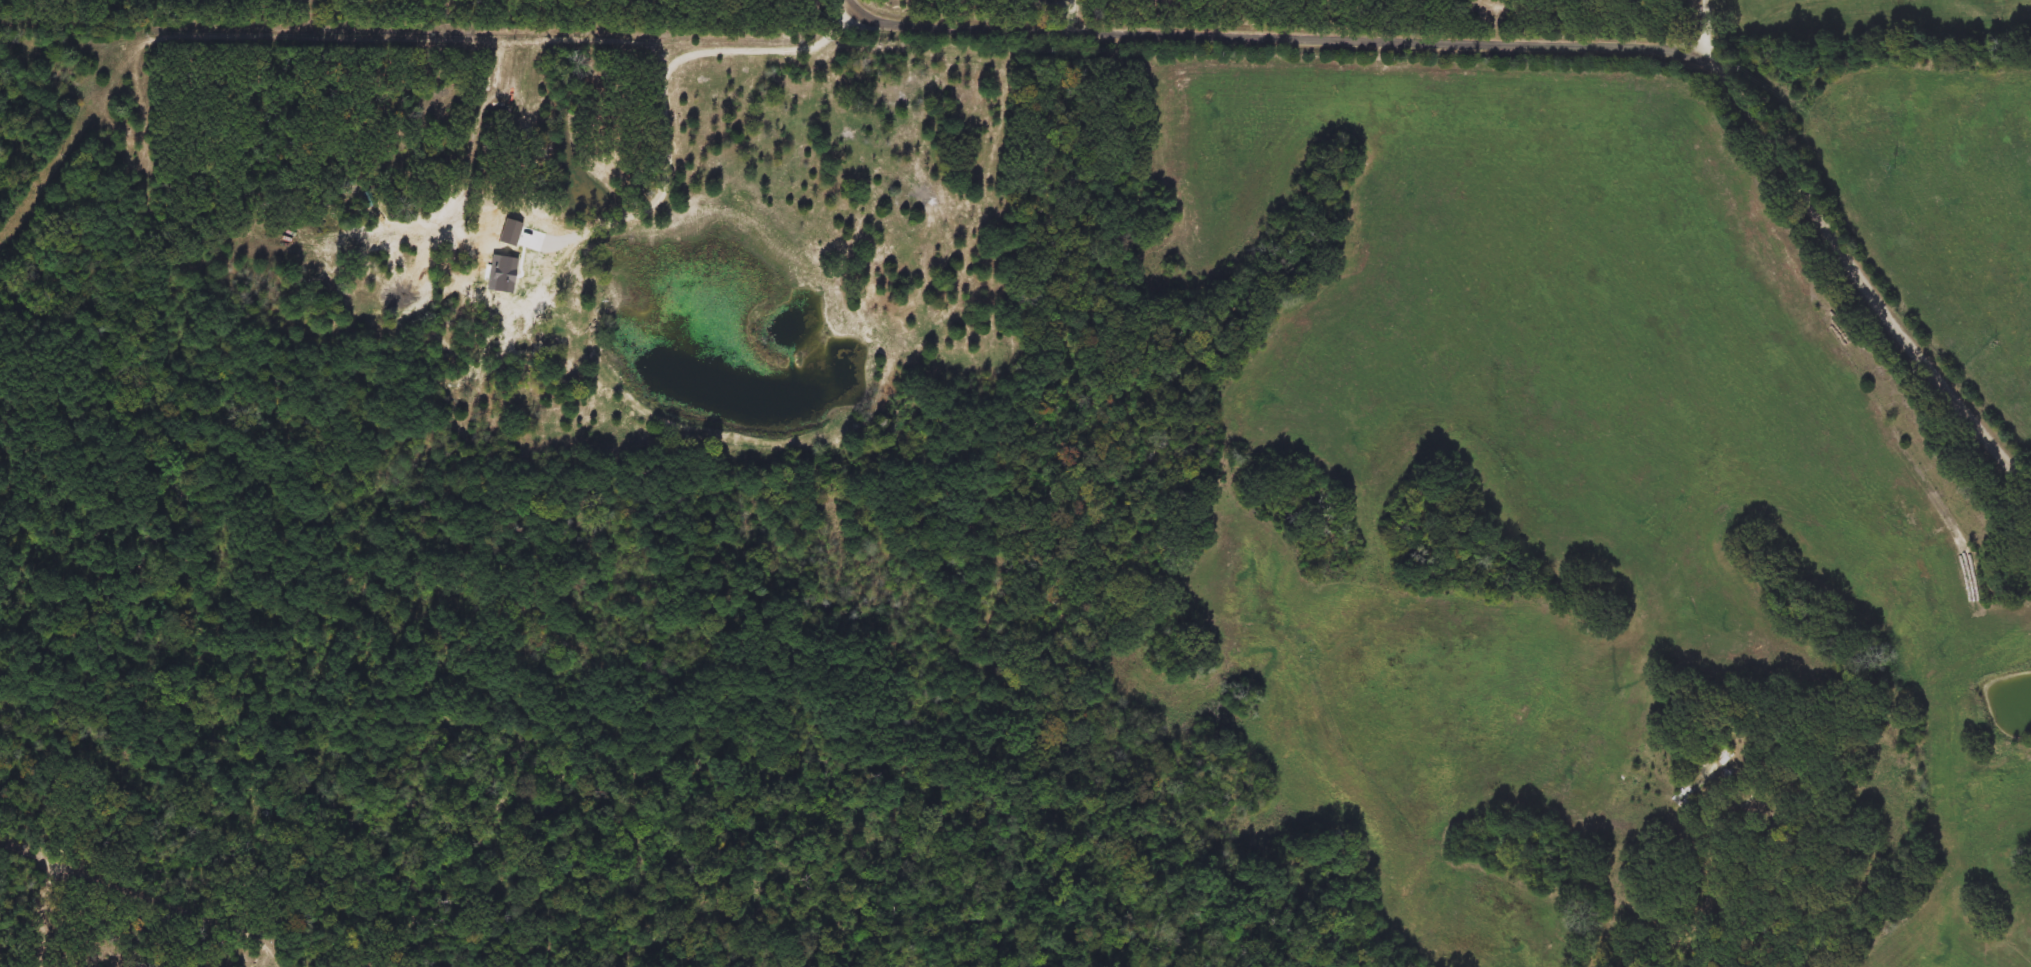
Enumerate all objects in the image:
road: (1710, 29)
road: (1543, 42)
road: (669, 93)
building: (557, 319)
building: (1725, 757)

